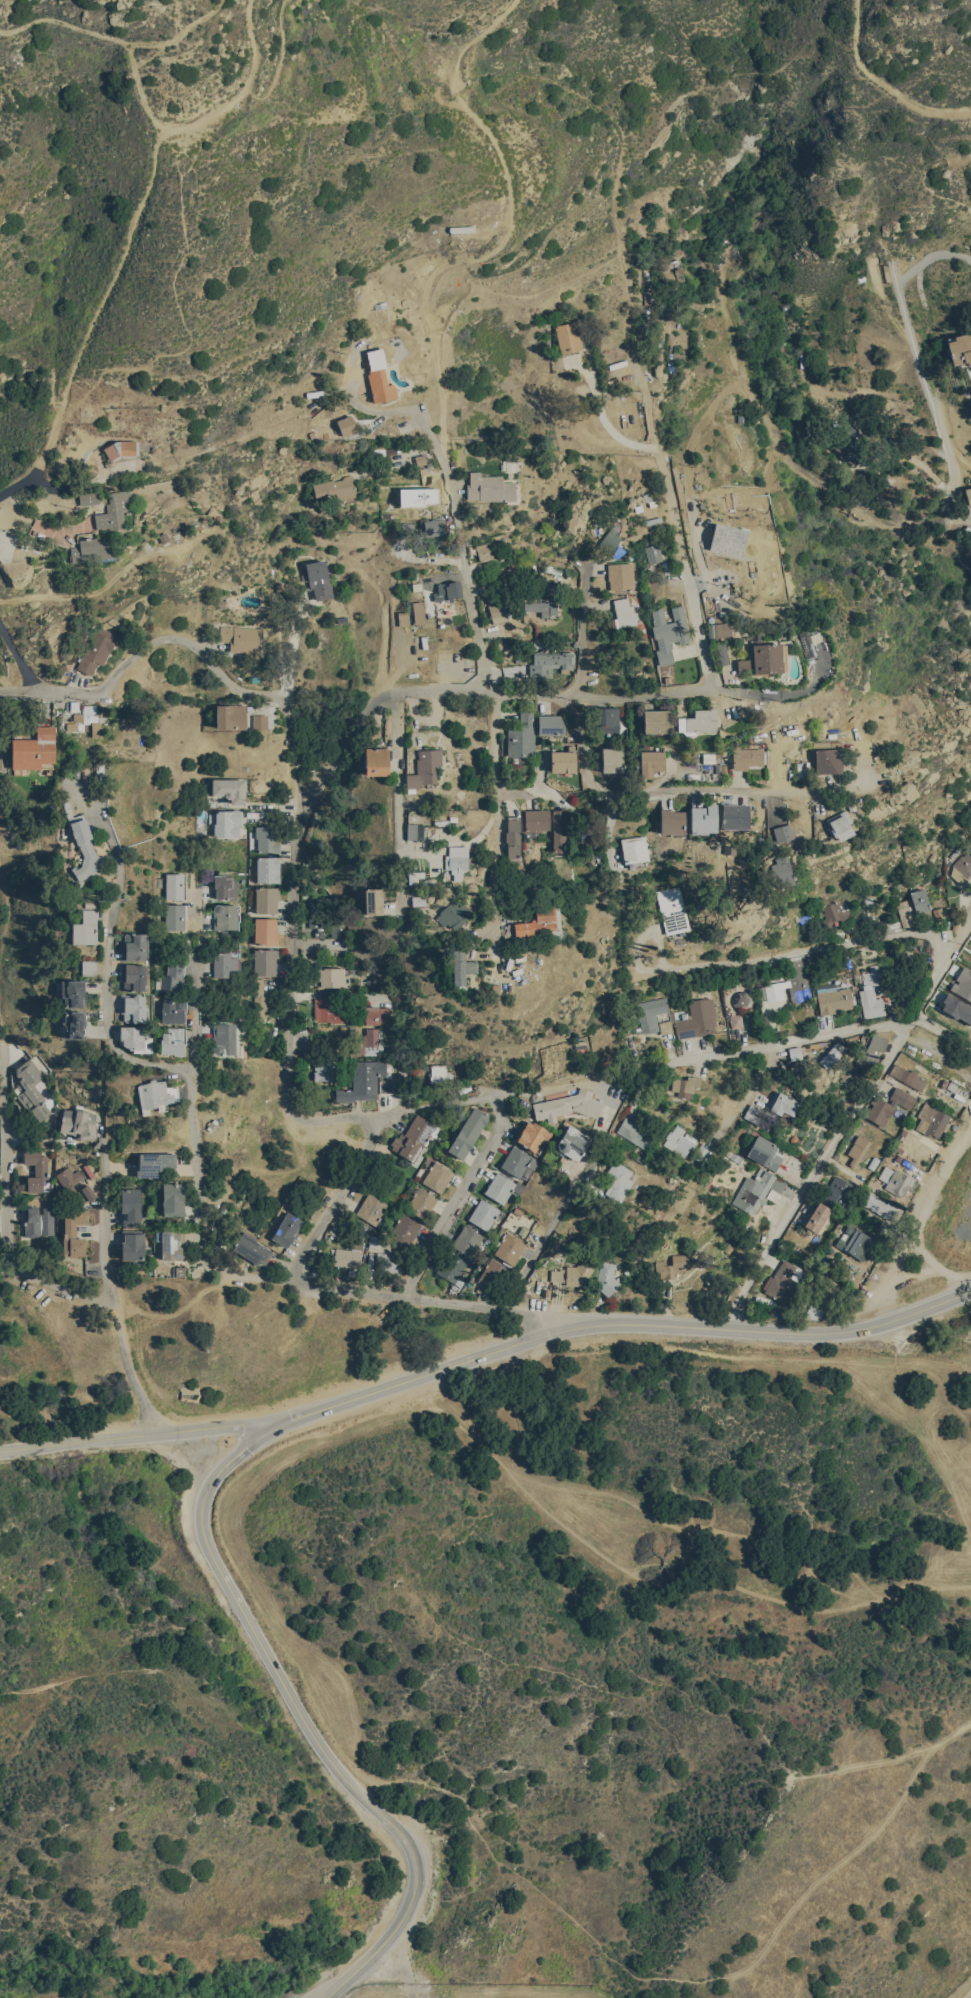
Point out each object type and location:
road: (349, 34)
road: (1, 40)
road: (116, 40)
road: (279, 56)
road: (883, 81)
road: (213, 116)
road: (536, 157)
road: (506, 231)
building: (671, 270)
road: (111, 278)
road: (55, 314)
building: (567, 336)
building: (959, 349)
road: (920, 360)
road: (639, 370)
road: (746, 371)
building: (377, 376)
road: (621, 395)
road: (387, 406)
road: (650, 420)
building: (345, 425)
road: (609, 427)
building: (120, 448)
building: (847, 448)
road: (21, 482)
road: (76, 485)
building: (489, 487)
building: (333, 489)
building: (967, 496)
building: (113, 510)
road: (853, 515)
building: (574, 516)
road: (963, 521)
building: (435, 527)
building: (608, 538)
building: (726, 539)
building: (93, 550)
building: (482, 550)
building: (651, 553)
building: (619, 576)
building: (317, 579)
building: (448, 590)
building: (547, 608)
building: (622, 611)
building: (417, 612)
building: (497, 612)
building: (402, 618)
road: (697, 620)
road: (582, 629)
building: (717, 629)
building: (667, 631)
building: (240, 639)
road: (294, 646)
building: (96, 649)
building: (766, 658)
road: (132, 662)
building: (547, 662)
building: (742, 666)
road: (489, 683)
road: (22, 691)
road: (788, 694)
road: (501, 697)
road: (396, 701)
building: (231, 716)
building: (608, 719)
building: (260, 720)
building: (658, 720)
building: (699, 721)
building: (85, 723)
building: (551, 725)
building: (522, 735)
road: (347, 742)
building: (35, 749)
road: (295, 749)
building: (747, 757)
building: (613, 759)
building: (652, 759)
building: (376, 760)
building: (828, 760)
building: (562, 761)
building: (424, 768)
building: (100, 773)
road: (686, 789)
building: (230, 790)
road: (399, 808)
building: (736, 816)
building: (704, 818)
building: (536, 819)
building: (673, 821)
building: (226, 823)
building: (839, 825)
road: (610, 826)
building: (559, 829)
building: (414, 831)
building: (783, 831)
building: (512, 837)
building: (267, 838)
building: (84, 847)
building: (635, 850)
building: (457, 860)
building: (962, 865)
building: (268, 869)
building: (782, 870)
building: (413, 876)
building: (175, 886)
building: (225, 886)
building: (267, 900)
building: (373, 900)
building: (920, 903)
building: (673, 909)
building: (835, 912)
building: (907, 913)
building: (453, 914)
building: (225, 916)
building: (317, 916)
building: (174, 917)
building: (541, 922)
building: (892, 926)
building: (85, 928)
building: (338, 930)
building: (267, 931)
building: (134, 946)
road: (806, 948)
building: (266, 961)
building: (223, 964)
building: (462, 966)
building: (89, 968)
road: (107, 970)
building: (134, 976)
building: (871, 976)
building: (335, 977)
building: (171, 978)
building: (798, 979)
building: (775, 989)
building: (73, 993)
building: (260, 999)
building: (743, 1000)
building: (834, 1000)
building: (871, 1003)
building: (133, 1008)
building: (172, 1009)
building: (328, 1010)
building: (650, 1013)
building: (376, 1014)
building: (698, 1018)
building: (736, 1021)
building: (663, 1023)
building: (73, 1024)
road: (814, 1035)
building: (224, 1037)
building: (133, 1038)
building: (172, 1039)
building: (369, 1042)
building: (871, 1051)
building: (831, 1055)
road: (289, 1061)
building: (325, 1069)
building: (440, 1073)
building: (908, 1076)
road: (192, 1079)
building: (363, 1082)
building: (386, 1085)
building: (684, 1086)
building: (31, 1089)
road: (750, 1089)
building: (154, 1095)
building: (890, 1104)
building: (568, 1105)
building: (783, 1105)
building: (753, 1112)
building: (932, 1119)
road: (850, 1120)
building: (78, 1123)
building: (468, 1131)
building: (635, 1132)
building: (533, 1135)
building: (415, 1137)
building: (679, 1140)
building: (572, 1143)
building: (858, 1149)
building: (765, 1152)
building: (516, 1160)
building: (152, 1163)
building: (36, 1168)
building: (68, 1176)
building: (437, 1176)
building: (897, 1180)
building: (616, 1183)
building: (499, 1186)
building: (756, 1189)
building: (839, 1191)
building: (84, 1192)
road: (461, 1194)
road: (335, 1198)
building: (173, 1199)
building: (420, 1200)
building: (131, 1205)
building: (881, 1206)
road: (7, 1209)
building: (372, 1209)
building: (484, 1213)
road: (925, 1215)
building: (817, 1217)
building: (38, 1221)
building: (287, 1228)
building: (405, 1229)
building: (74, 1233)
building: (854, 1239)
building: (378, 1240)
building: (467, 1240)
road: (543, 1240)
building: (173, 1243)
building: (133, 1244)
building: (252, 1248)
building: (509, 1248)
building: (348, 1252)
building: (388, 1261)
building: (825, 1263)
building: (671, 1266)
building: (452, 1267)
building: (575, 1271)
building: (493, 1274)
building: (606, 1277)
road: (108, 1279)
building: (783, 1280)
building: (824, 1293)
road: (406, 1295)
road: (620, 1320)
road: (138, 1435)
road: (224, 1542)
road: (160, 1669)
road: (300, 1714)
road: (966, 1993)
road: (322, 1994)
road: (327, 1994)

